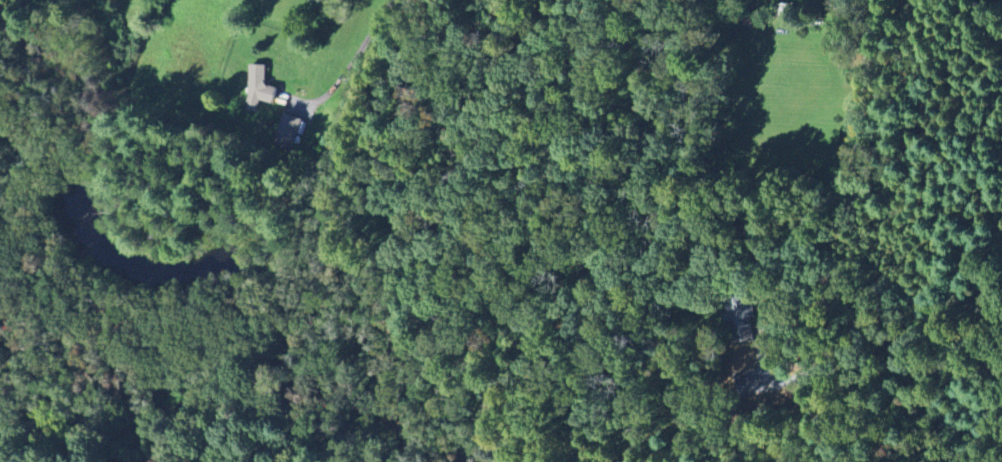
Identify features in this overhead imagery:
road: (52, 7)
road: (368, 32)
building: (259, 89)
building: (288, 132)
road: (841, 229)
building: (743, 313)

